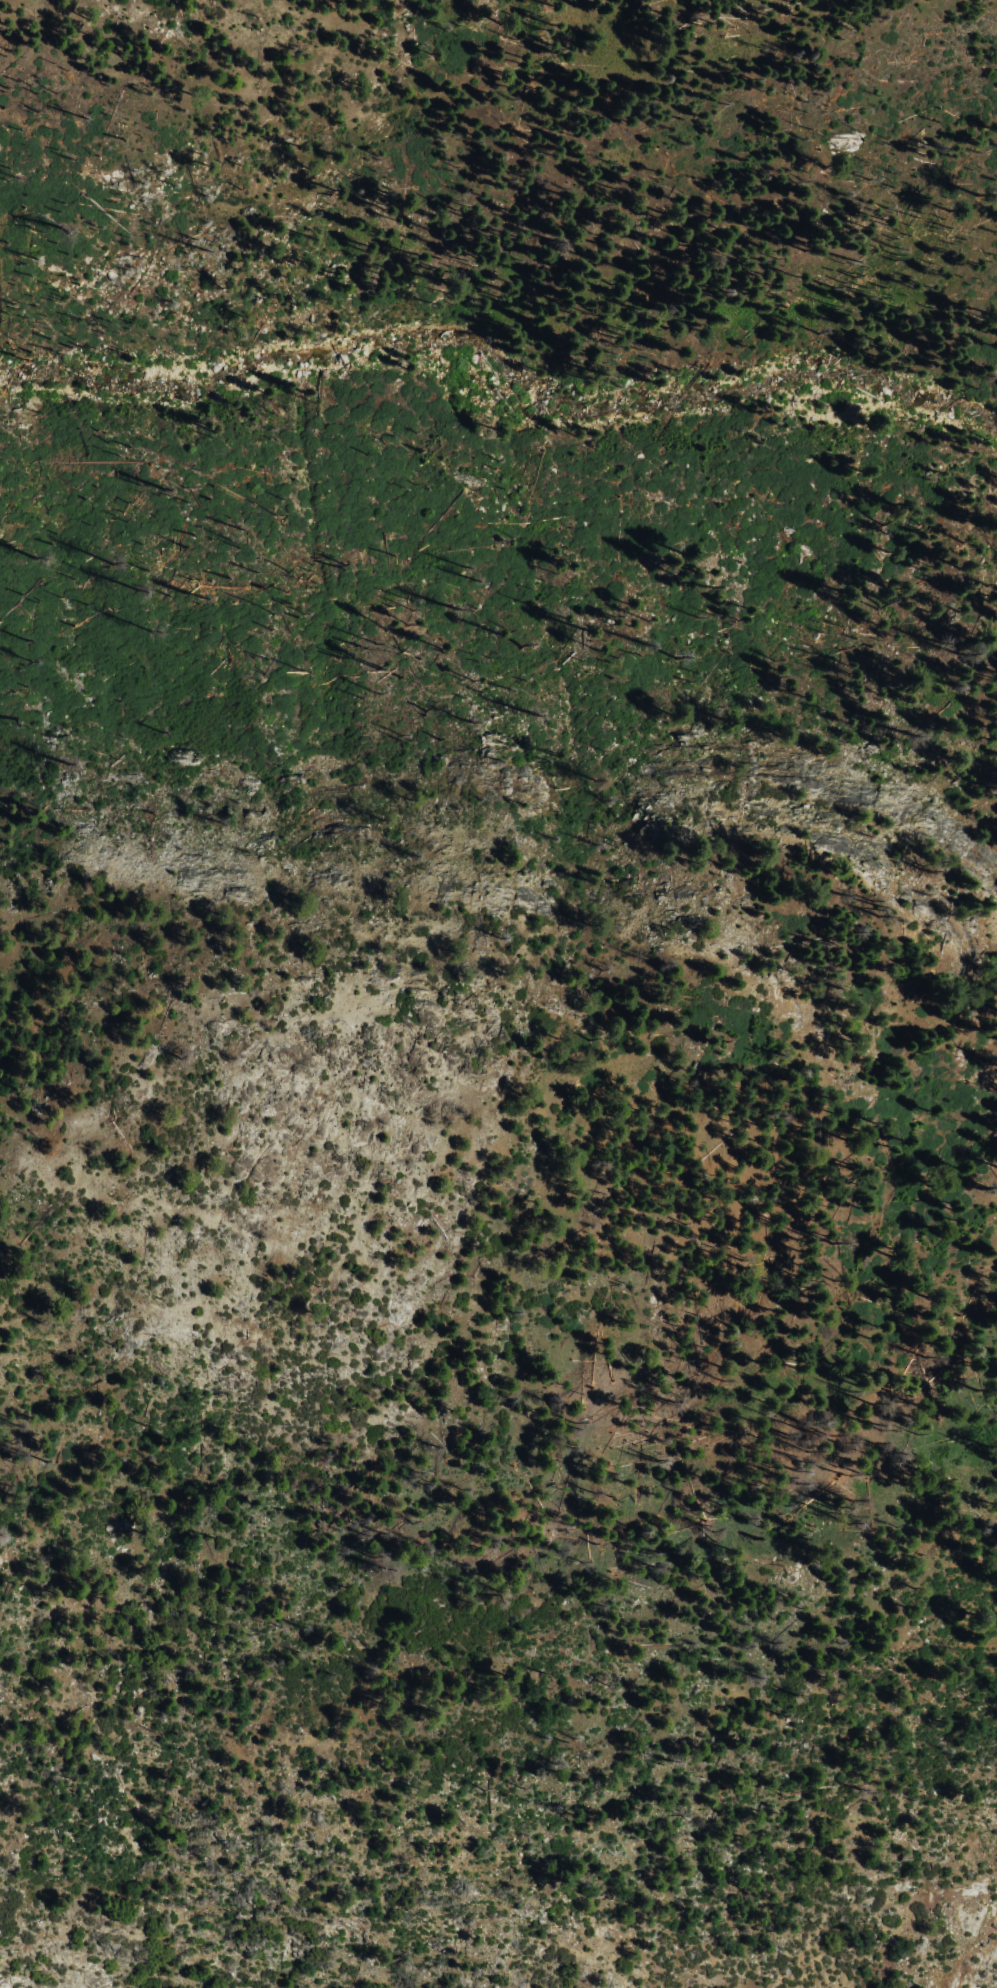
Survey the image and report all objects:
road: (424, 105)

